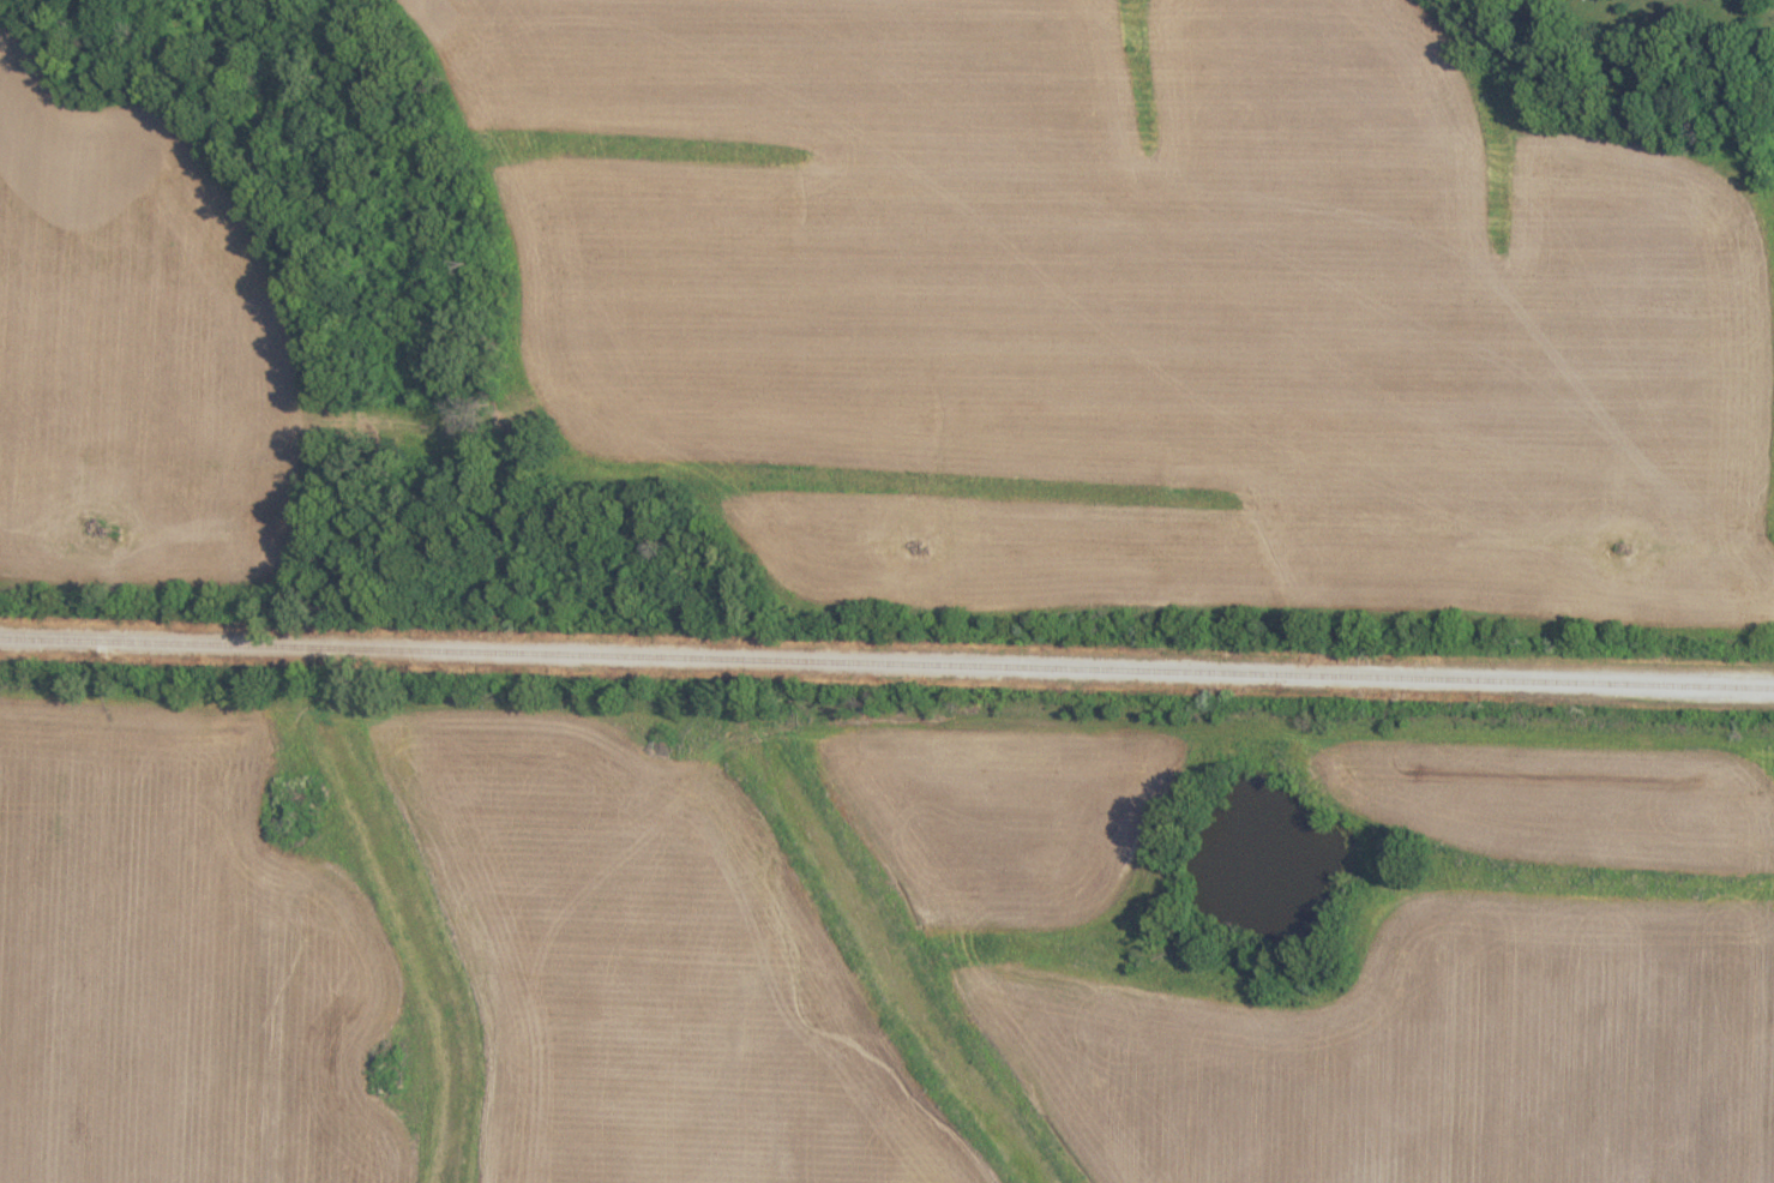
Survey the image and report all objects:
railway: (886, 661)

